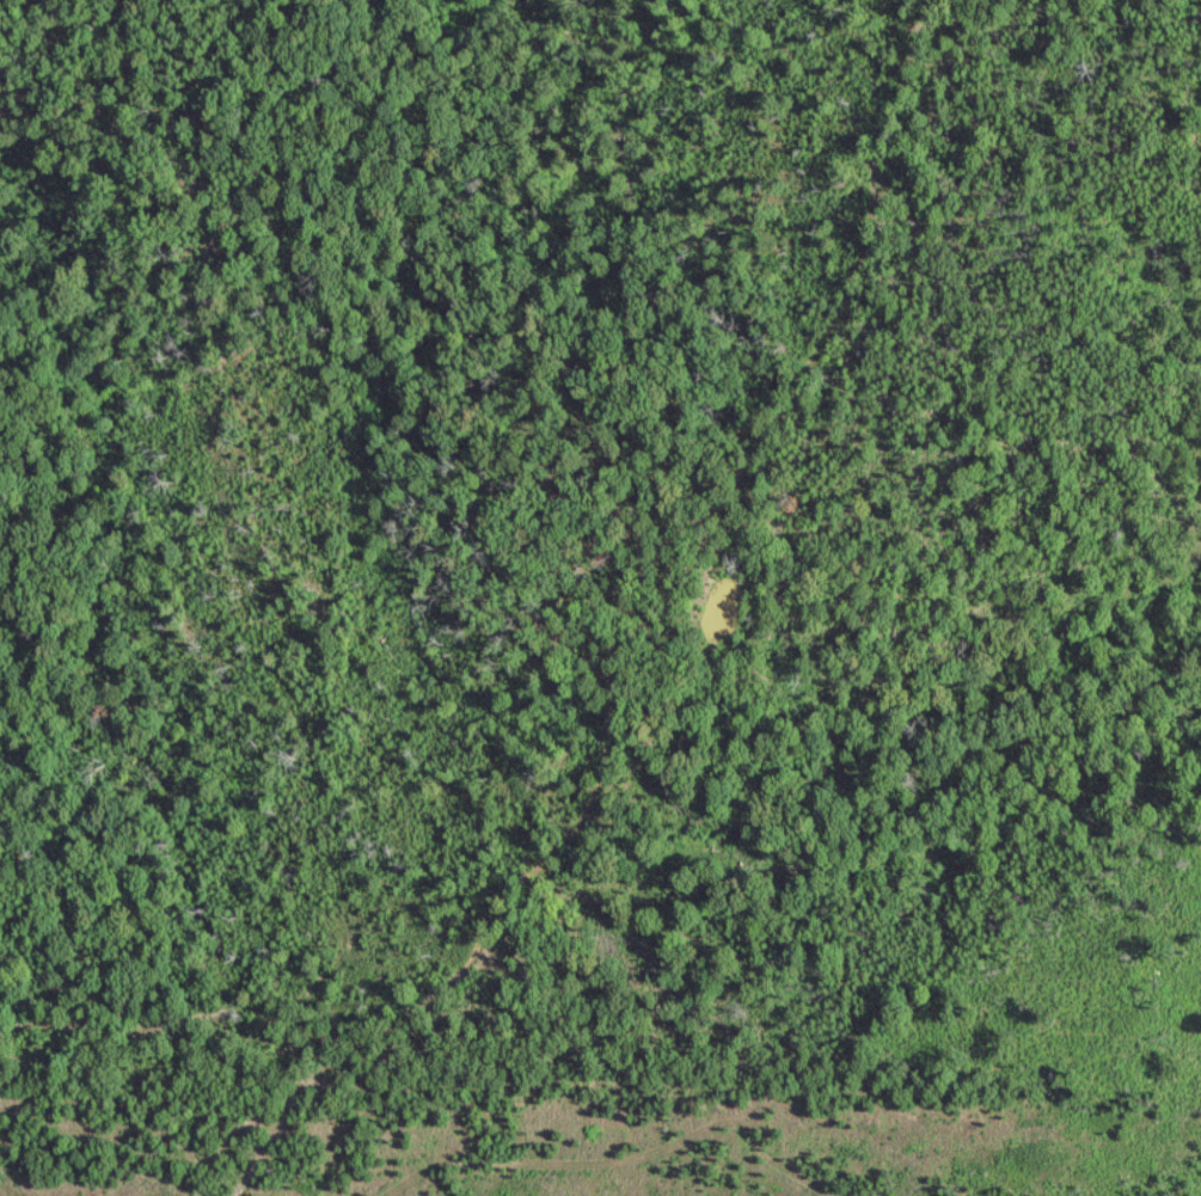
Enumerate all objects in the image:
road: (537, 1176)

